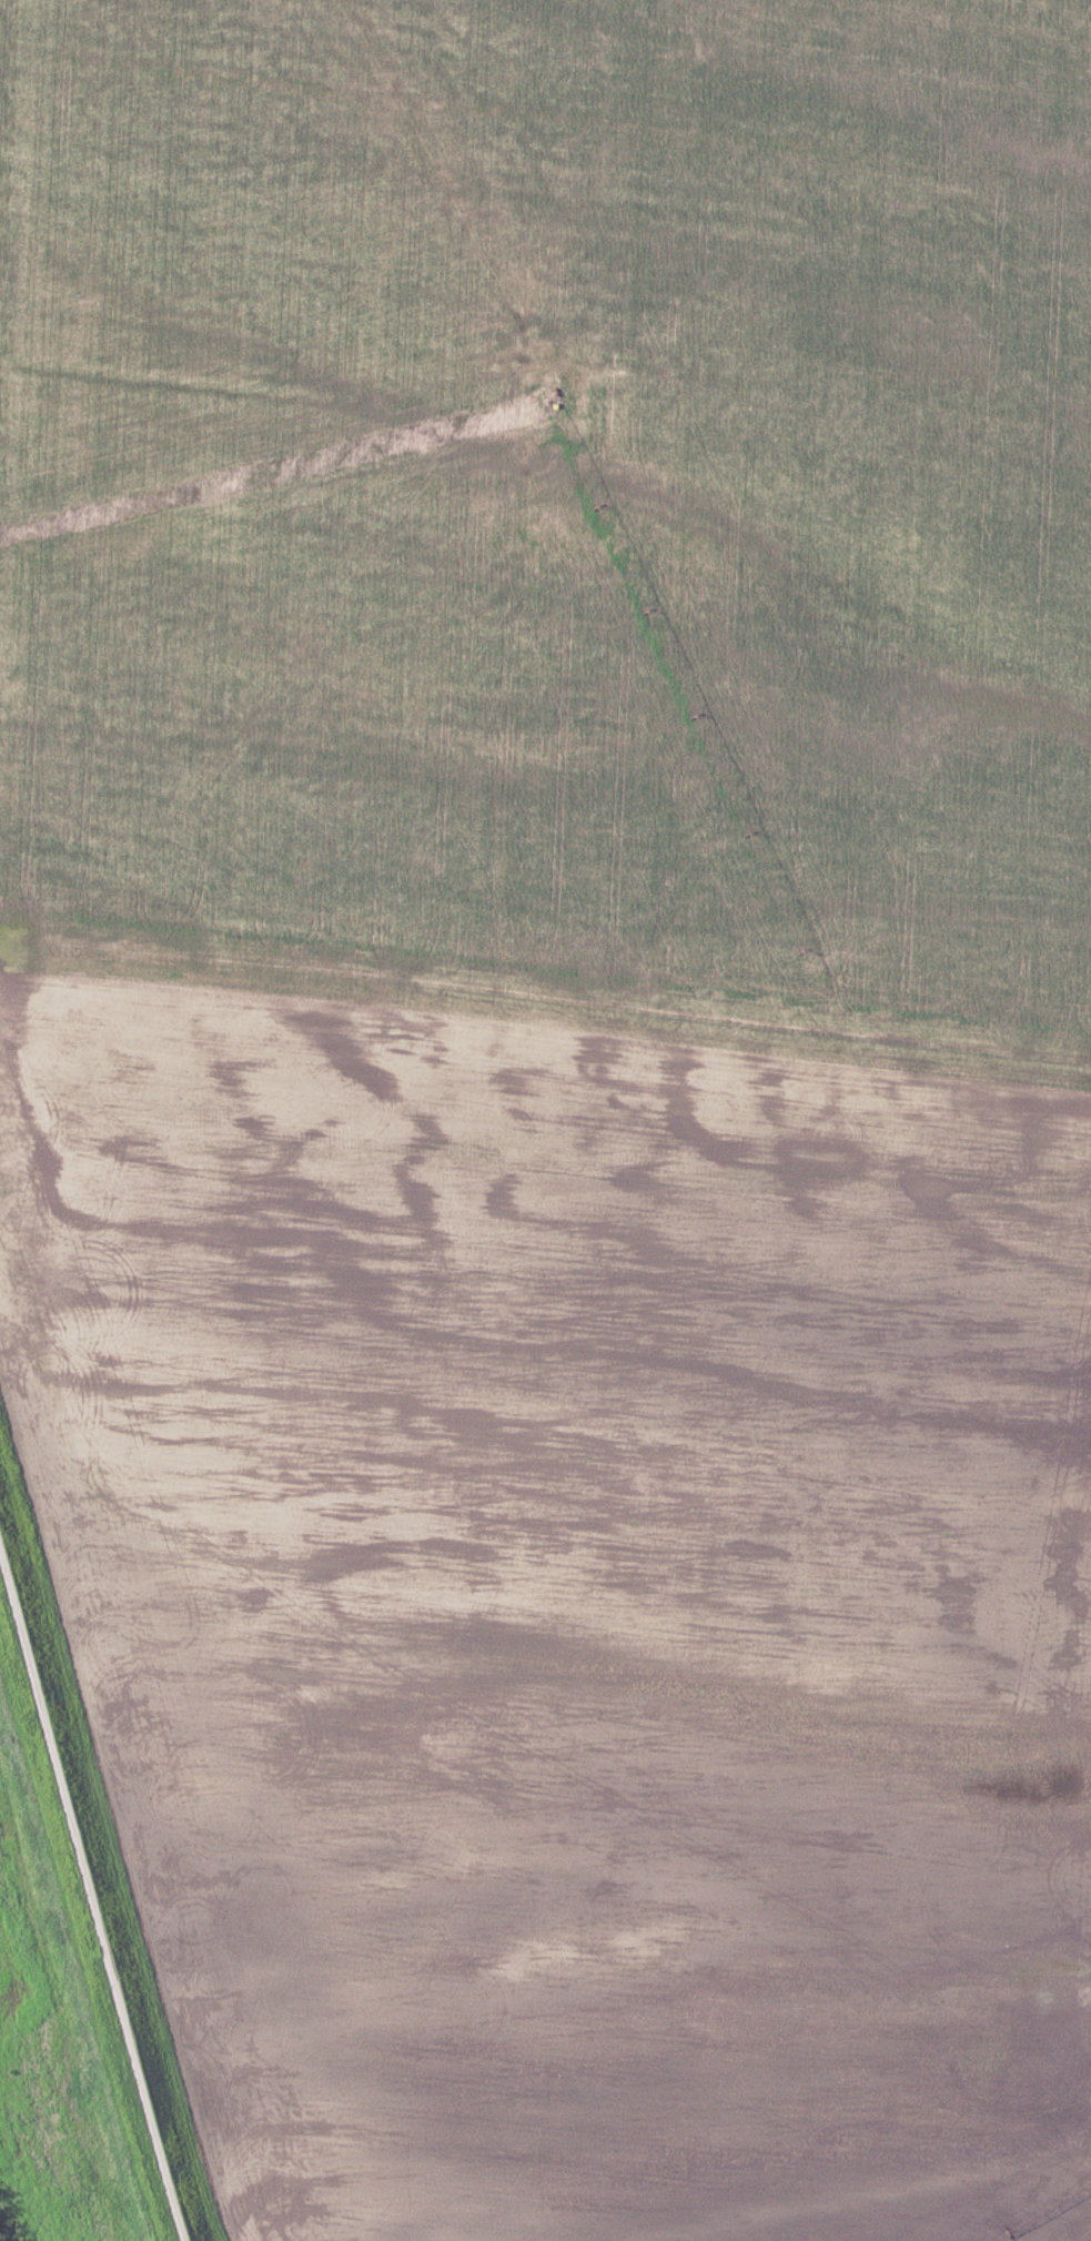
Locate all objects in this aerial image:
road: (91, 1895)

